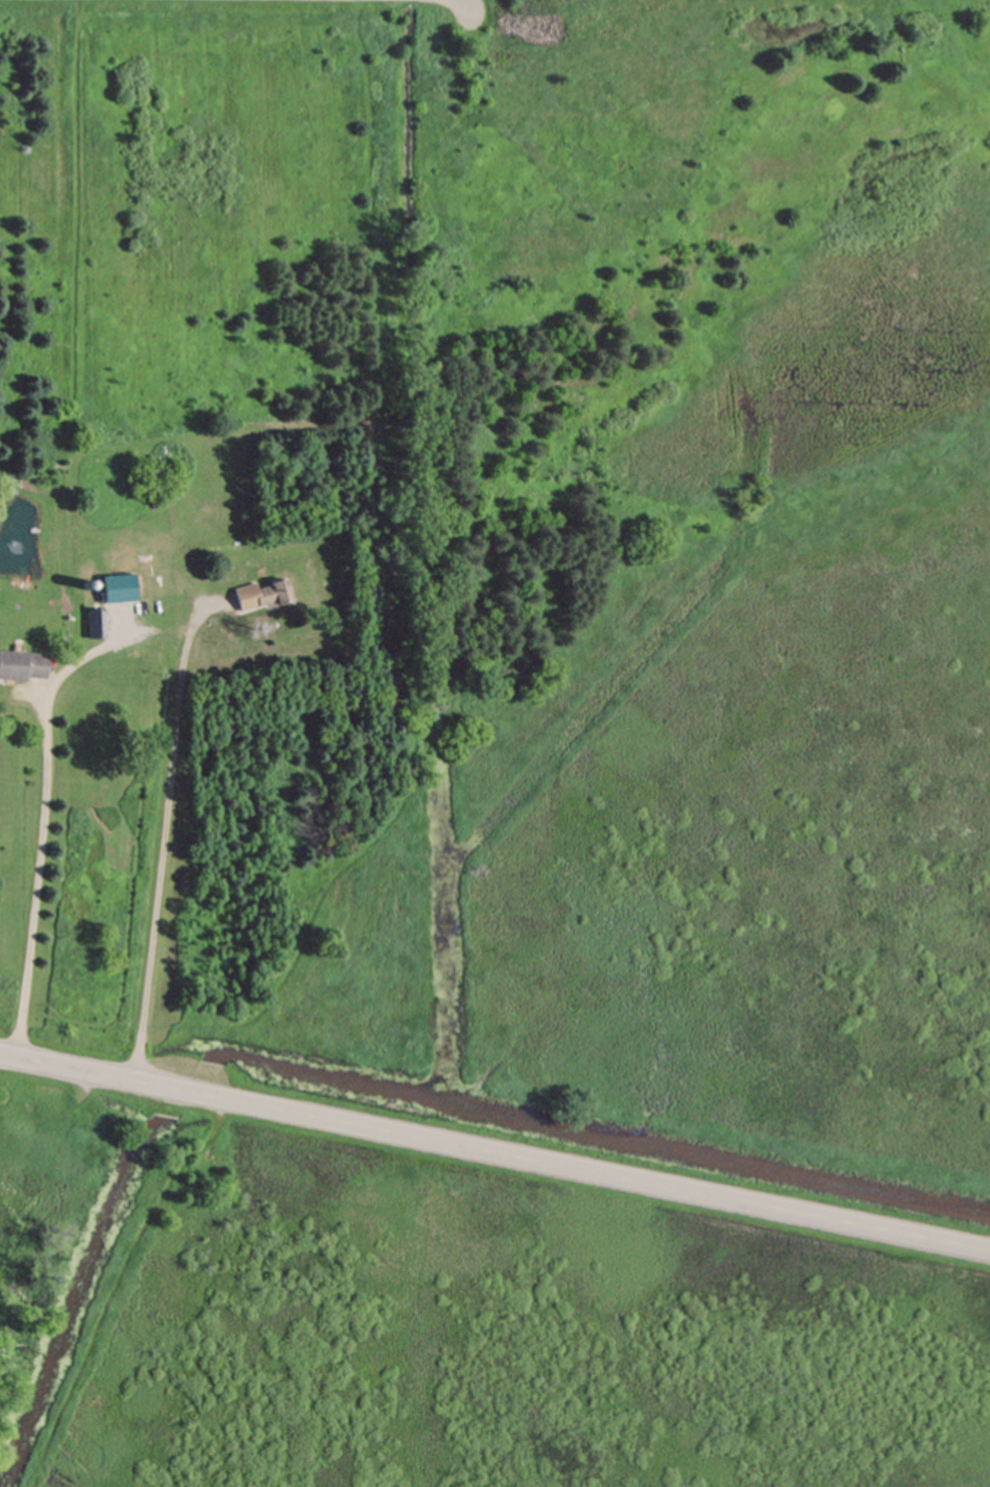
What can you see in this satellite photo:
road: (460, 1)
building: (162, 463)
building: (154, 481)
building: (34, 523)
building: (120, 581)
building: (87, 582)
building: (261, 593)
building: (88, 602)
building: (100, 623)
building: (15, 647)
building: (21, 664)
road: (176, 855)
road: (38, 873)
road: (79, 1069)
road: (574, 1167)

